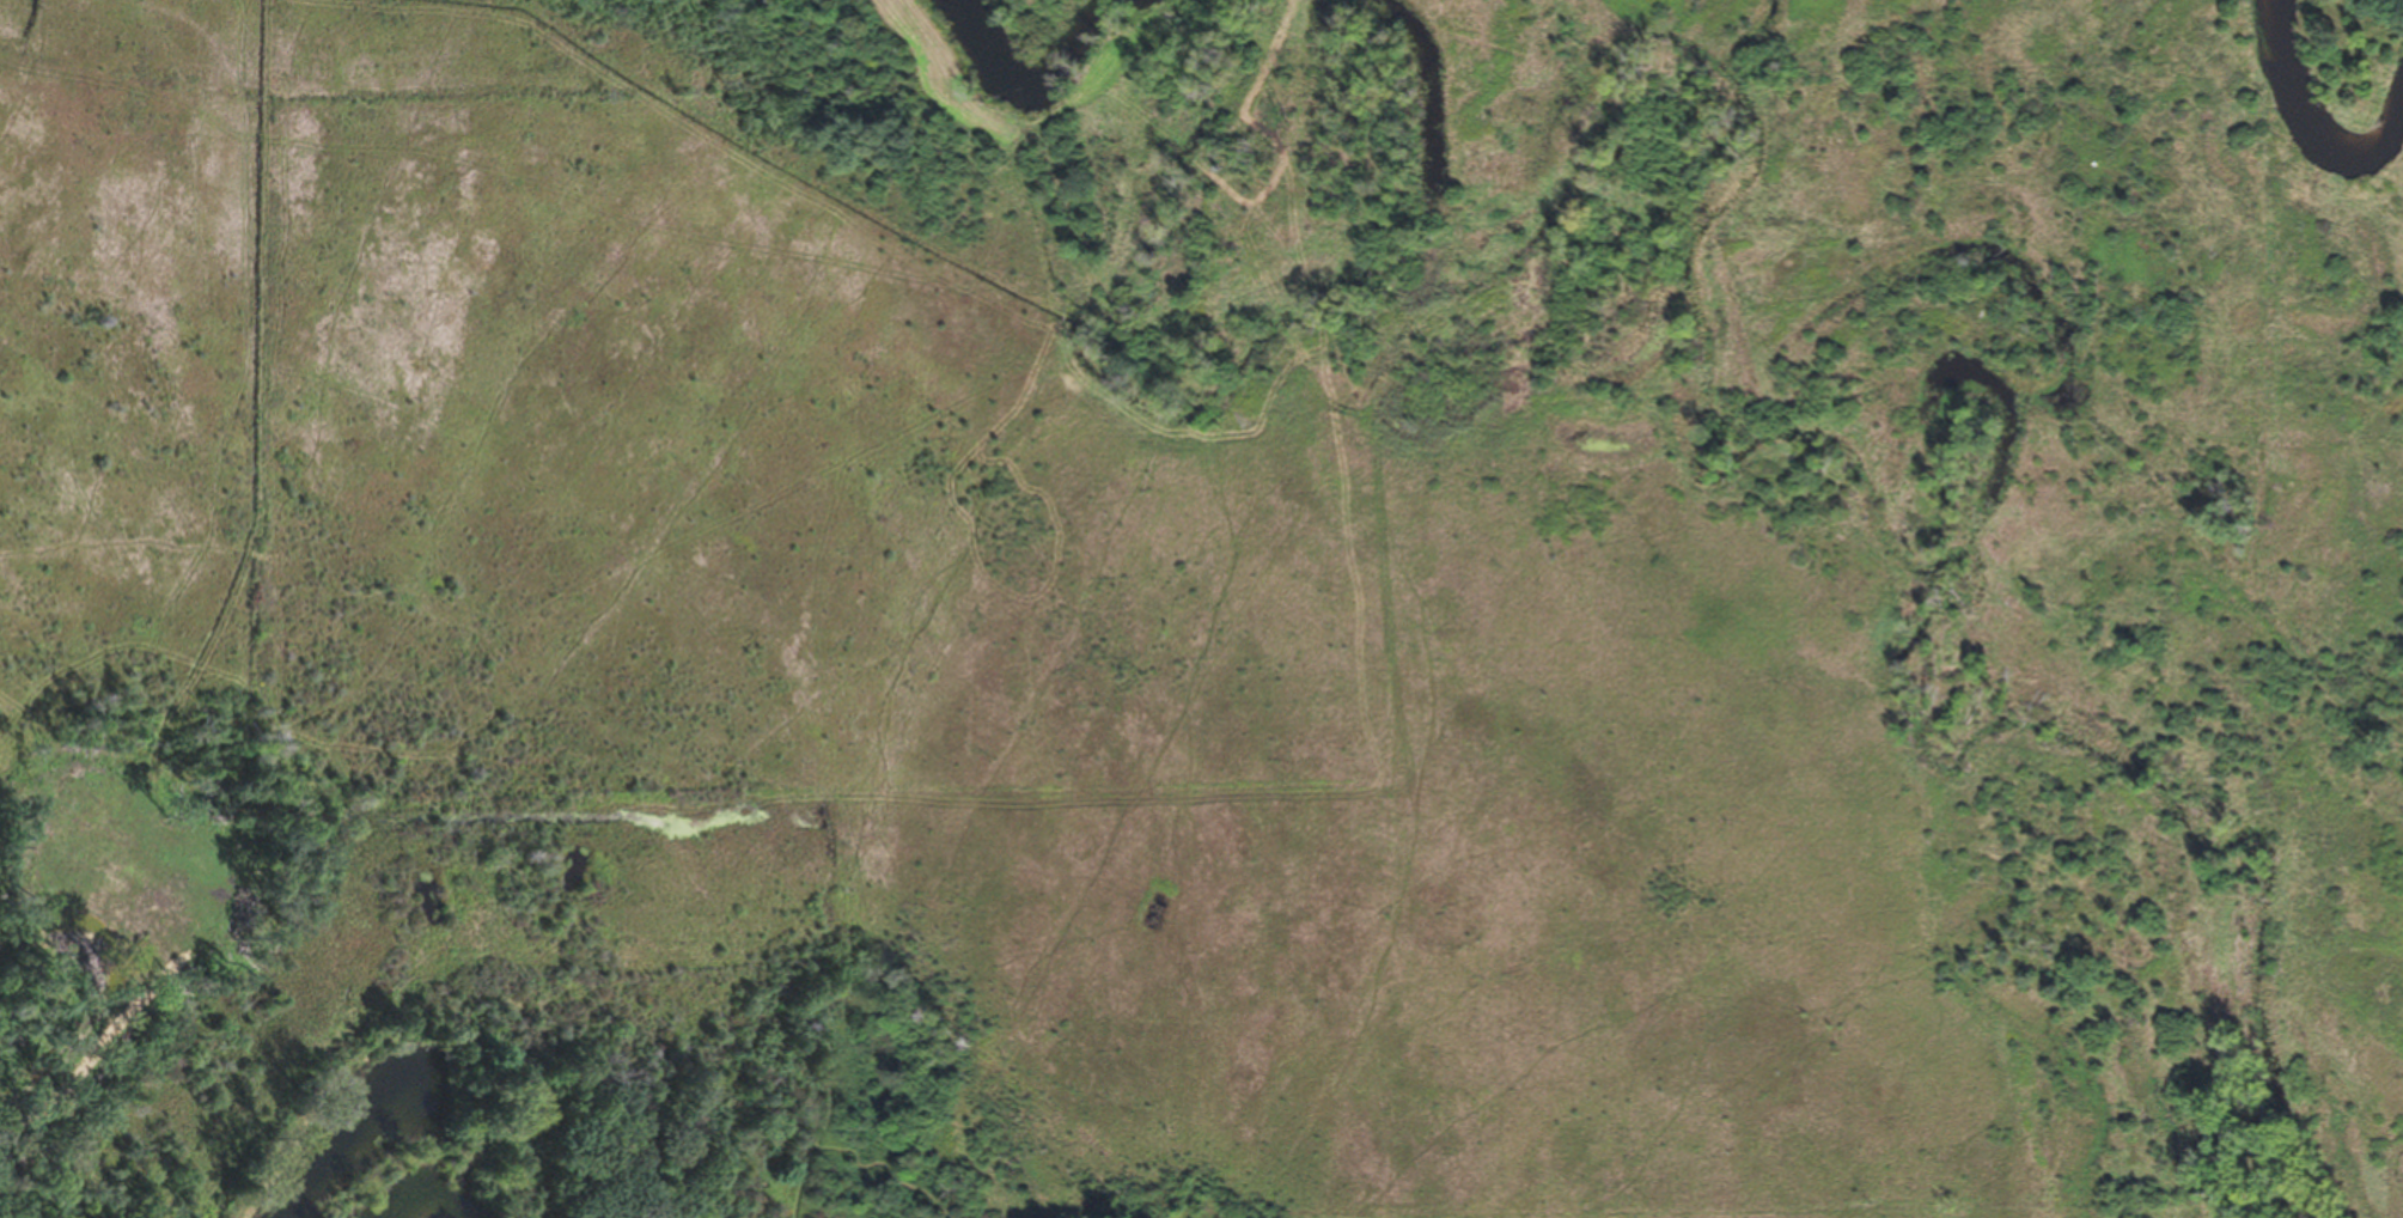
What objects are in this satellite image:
river: (2310, 114)

